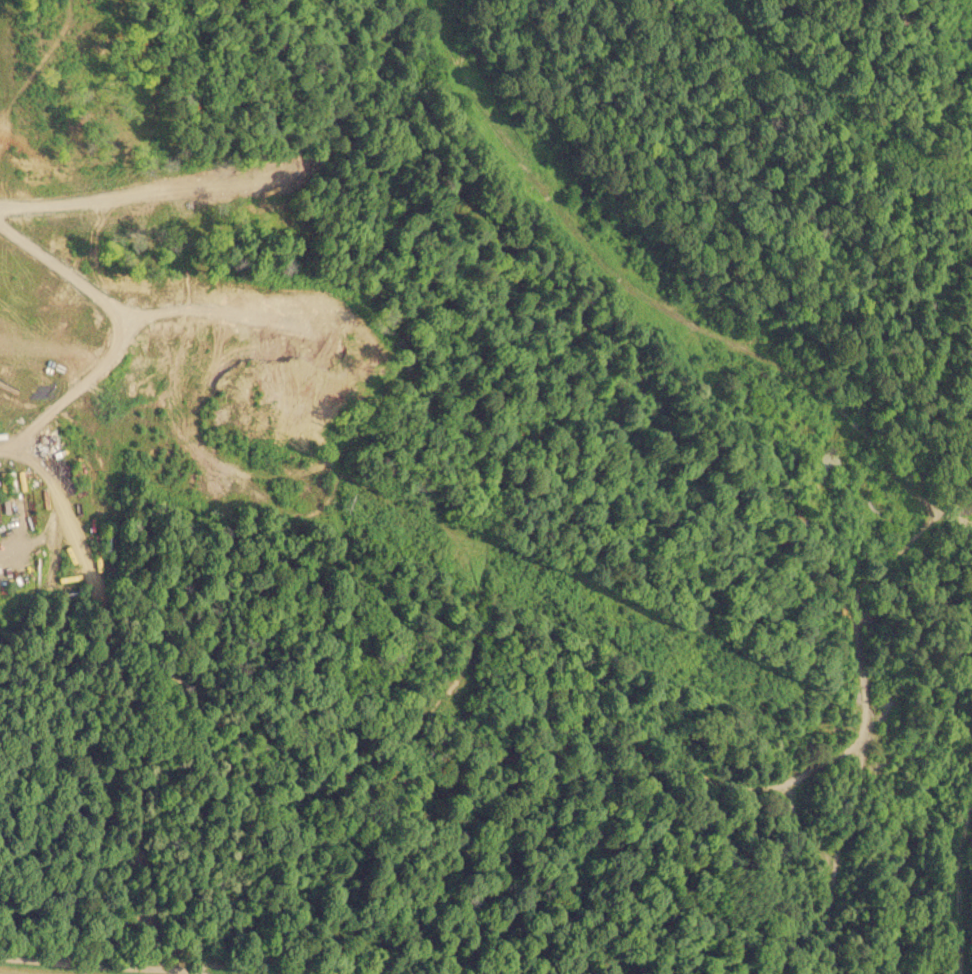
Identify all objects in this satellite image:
road: (795, 541)
building: (105, 560)
road: (63, 962)

